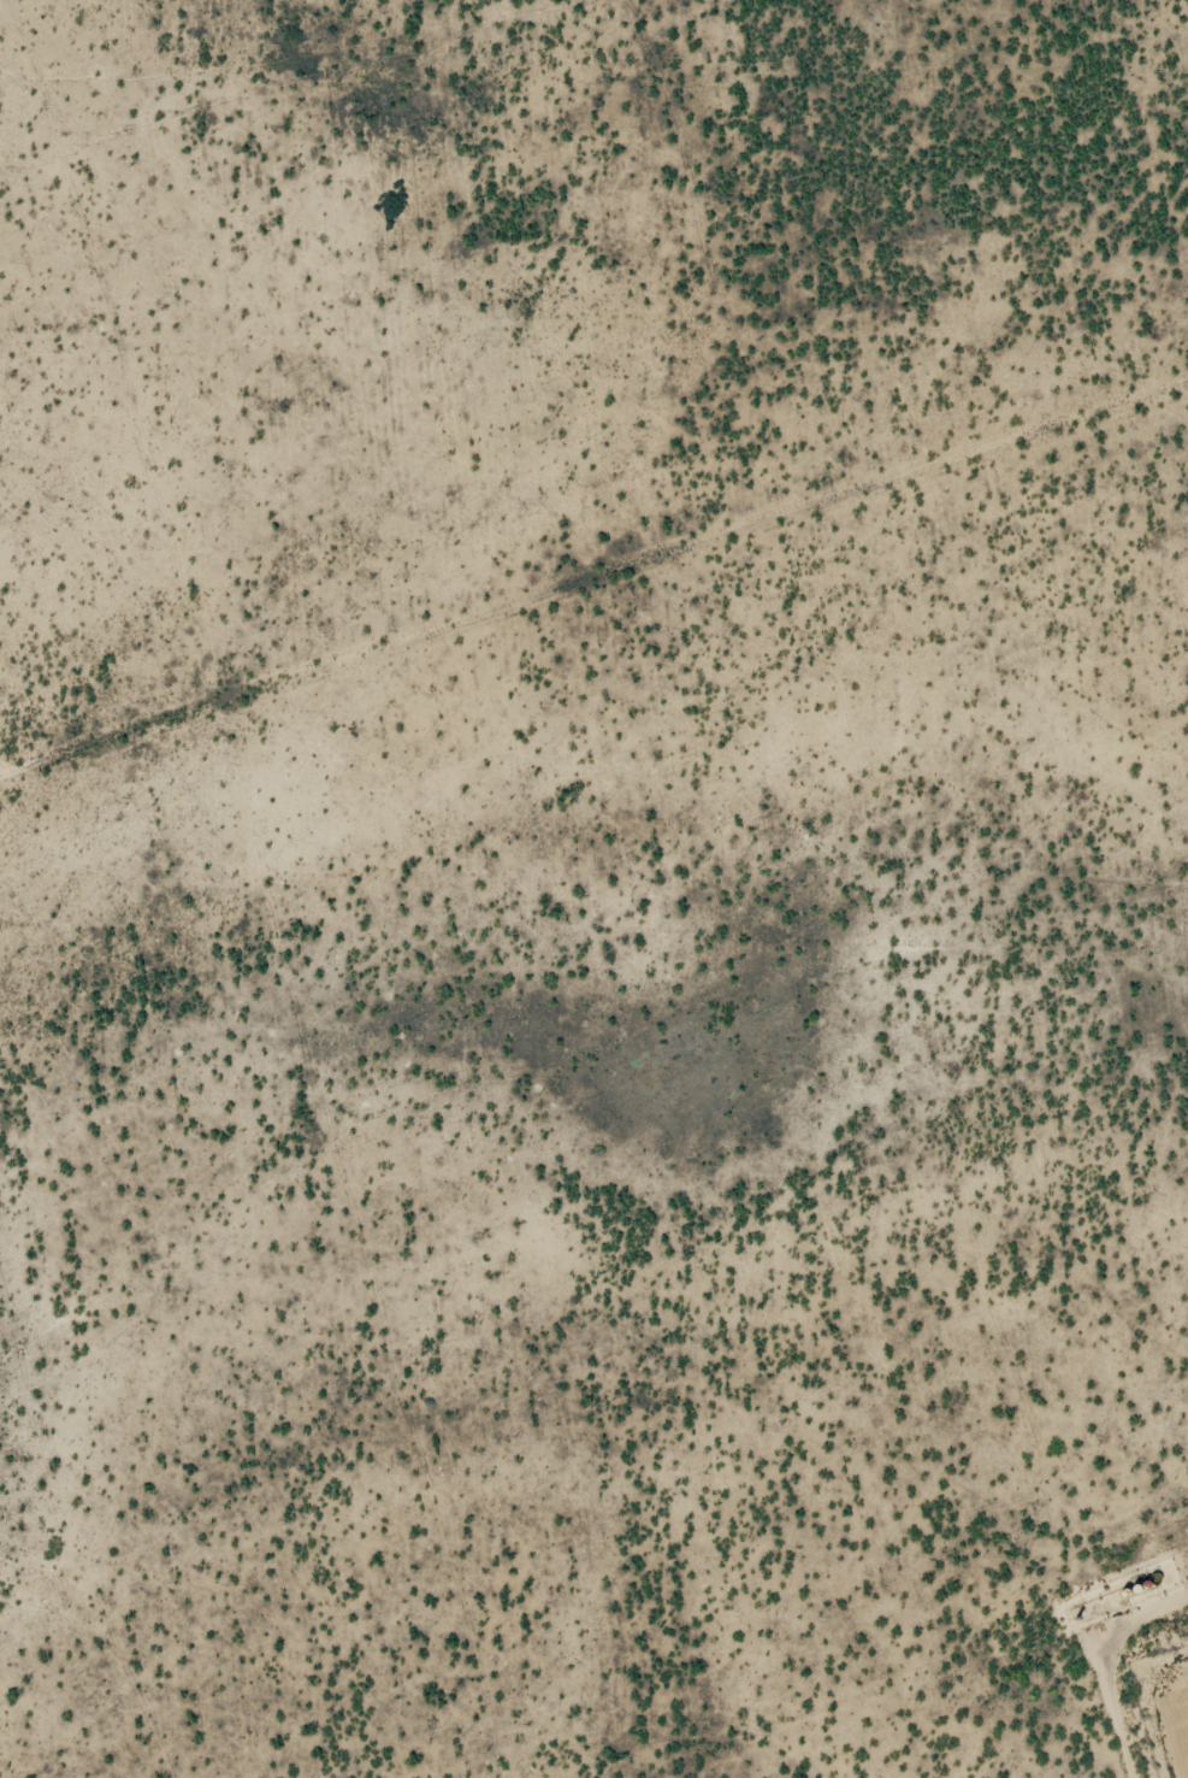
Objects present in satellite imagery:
river: (585, 1118)

